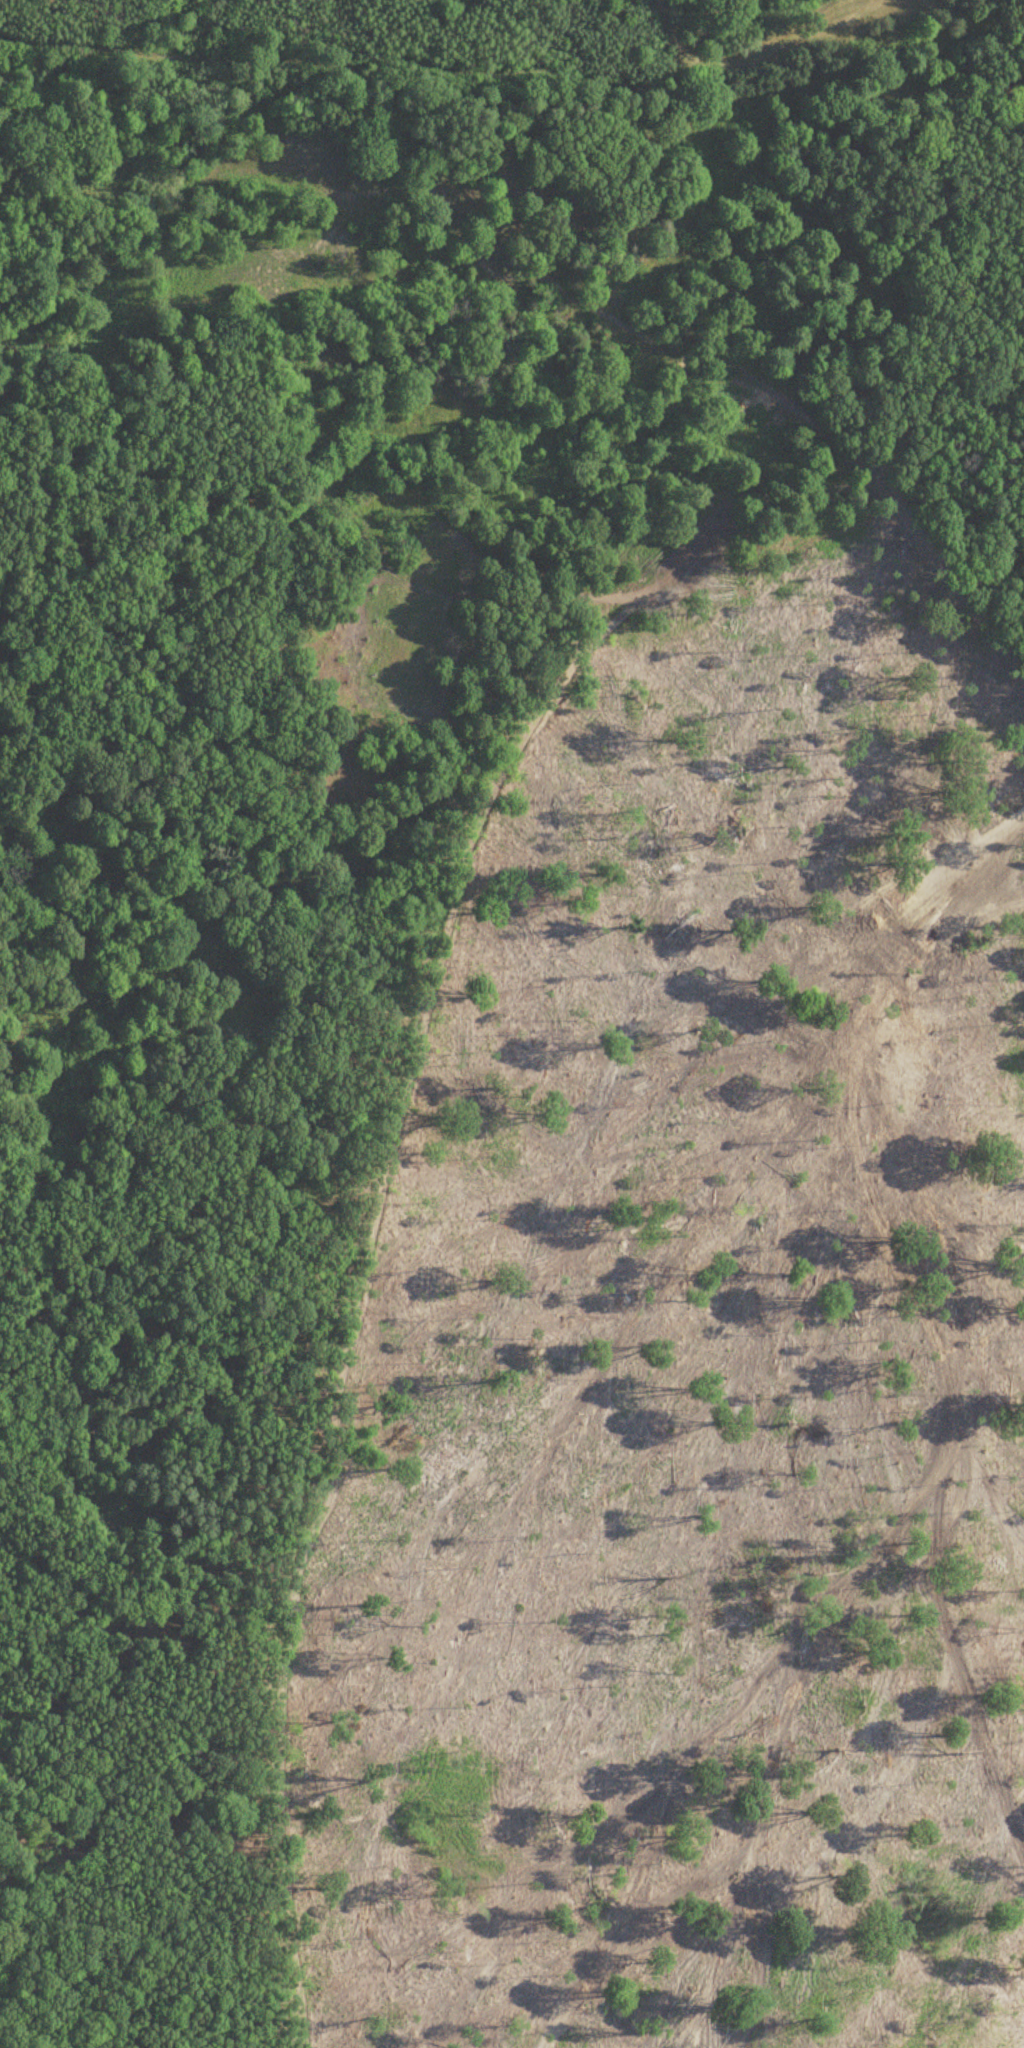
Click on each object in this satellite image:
road: (668, 21)
road: (782, 53)
road: (938, 385)
road: (688, 533)
road: (957, 575)
road: (421, 1031)
road: (336, 1473)
road: (283, 1799)

